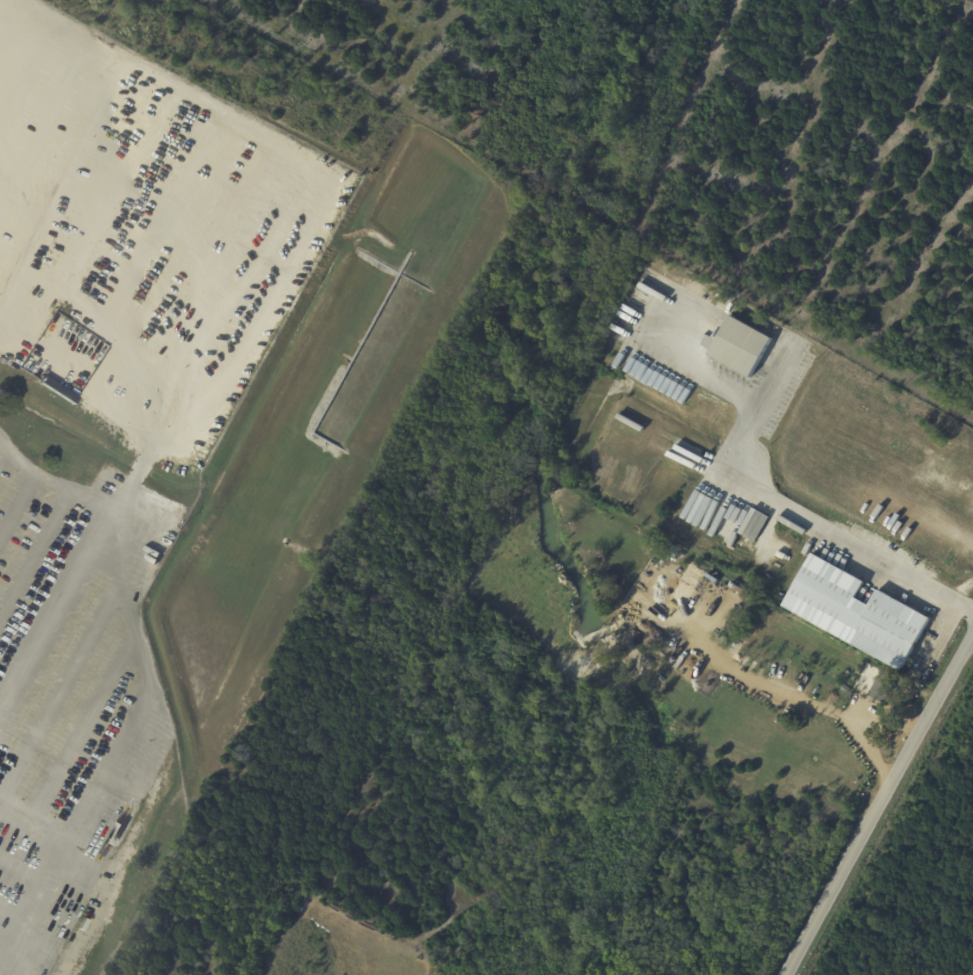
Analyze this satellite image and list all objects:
building: (739, 344)
building: (762, 373)
road: (770, 386)
road: (3, 451)
road: (779, 498)
road: (19, 506)
road: (35, 551)
building: (744, 592)
building: (744, 612)
building: (858, 612)
building: (732, 626)
road: (46, 636)
road: (145, 676)
building: (882, 690)
road: (785, 692)
road: (57, 695)
road: (82, 726)
road: (879, 809)
road: (35, 822)
road: (28, 871)
road: (19, 912)
road: (10, 951)

